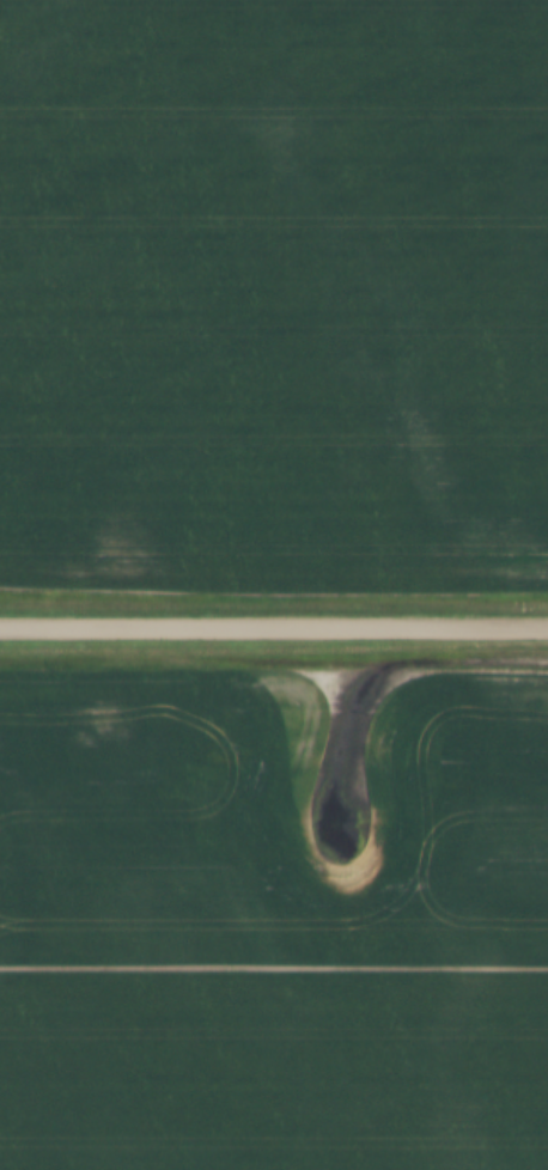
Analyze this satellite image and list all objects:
road: (273, 628)

